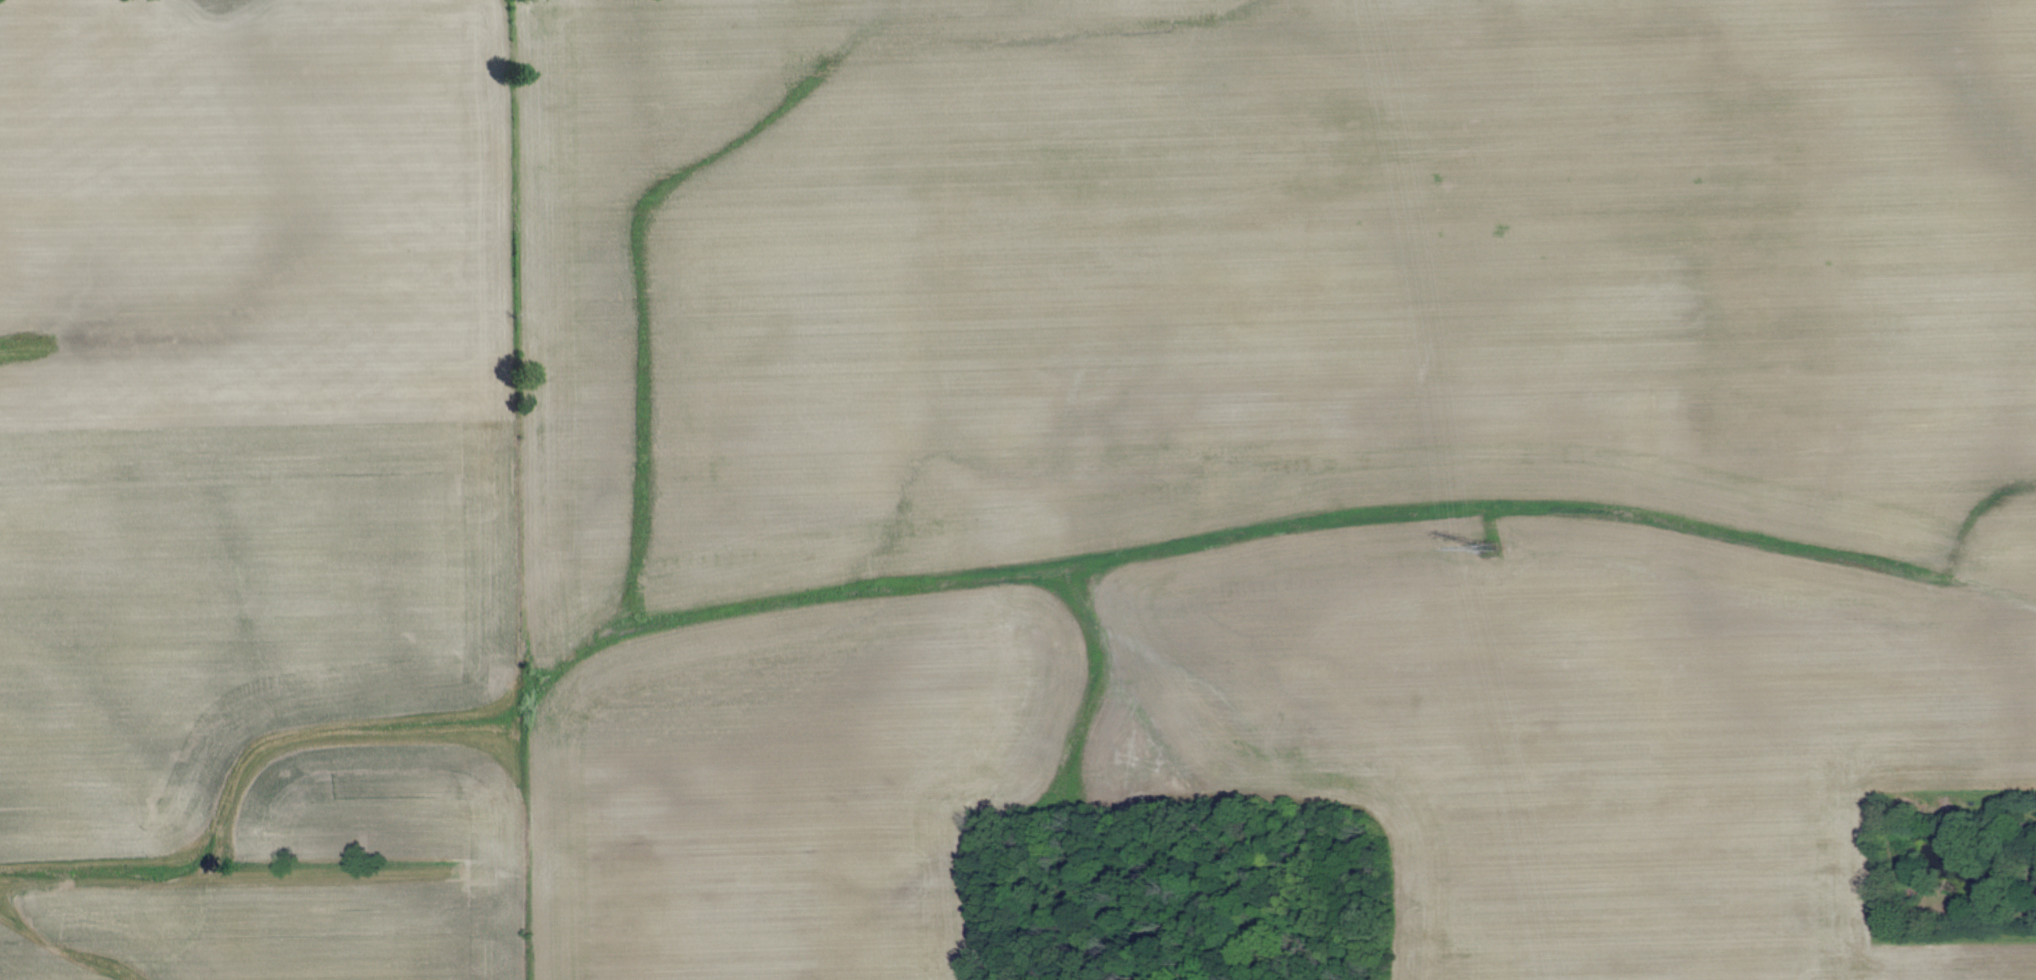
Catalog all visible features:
power tower: (1495, 542)

